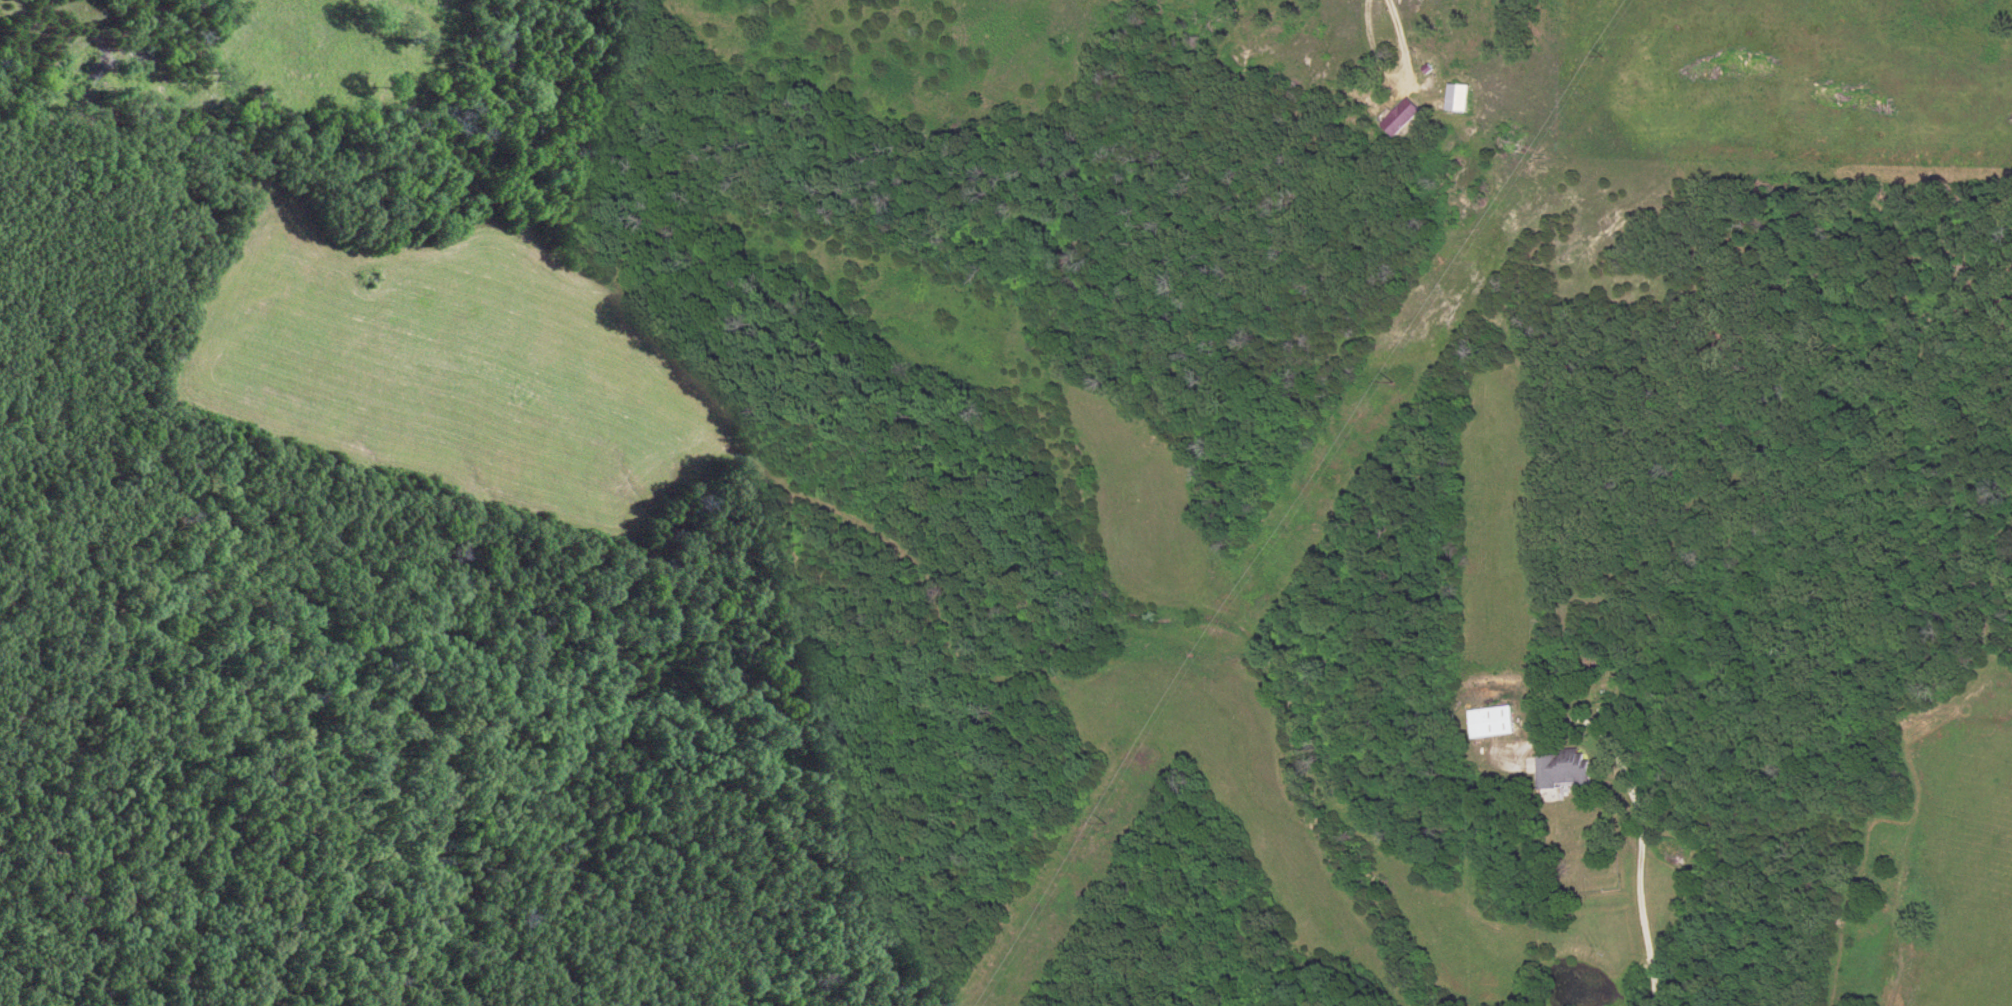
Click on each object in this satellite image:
road: (1397, 81)
building: (1453, 97)
building: (1397, 117)
building: (1487, 723)
building: (1559, 770)
road: (1638, 869)

